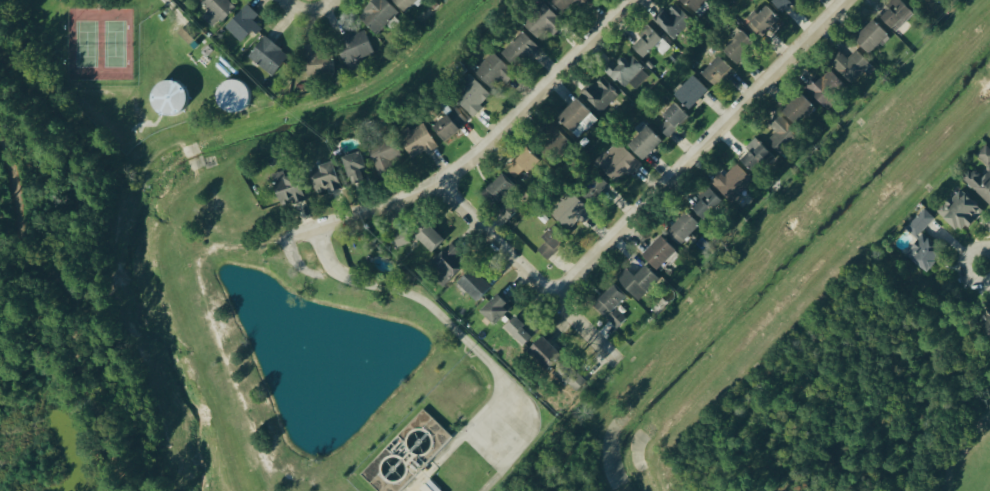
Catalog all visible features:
building: (784, 3)
building: (405, 4)
building: (566, 4)
building: (694, 4)
road: (320, 8)
building: (217, 10)
road: (292, 10)
building: (379, 14)
building: (897, 14)
building: (763, 19)
building: (673, 20)
building: (545, 21)
building: (244, 23)
building: (873, 35)
park: (79, 37)
building: (651, 41)
building: (740, 45)
building: (355, 48)
building: (521, 49)
building: (269, 55)
building: (320, 58)
building: (853, 65)
building: (717, 69)
building: (496, 70)
building: (628, 72)
building: (828, 88)
building: (692, 90)
building: (600, 93)
building: (473, 95)
building: (171, 96)
building: (800, 107)
building: (578, 115)
building: (673, 119)
building: (452, 123)
building: (783, 133)
building: (419, 140)
building: (646, 141)
building: (554, 144)
road: (700, 149)
road: (480, 153)
building: (385, 154)
building: (756, 154)
building: (985, 154)
building: (618, 159)
building: (524, 162)
building: (356, 165)
building: (327, 177)
building: (733, 180)
building: (979, 182)
building: (502, 186)
building: (289, 187)
building: (594, 193)
building: (708, 203)
building: (509, 209)
building: (961, 209)
building: (573, 210)
building: (684, 227)
building: (556, 236)
building: (431, 237)
building: (402, 238)
building: (924, 242)
building: (548, 249)
building: (660, 252)
road: (986, 262)
road: (529, 274)
building: (639, 281)
building: (476, 283)
building: (612, 304)
building: (496, 307)
building: (989, 313)
road: (436, 315)
building: (988, 323)
building: (522, 330)
road: (218, 345)
building: (547, 351)
building: (576, 379)
park: (971, 460)
building: (430, 486)

